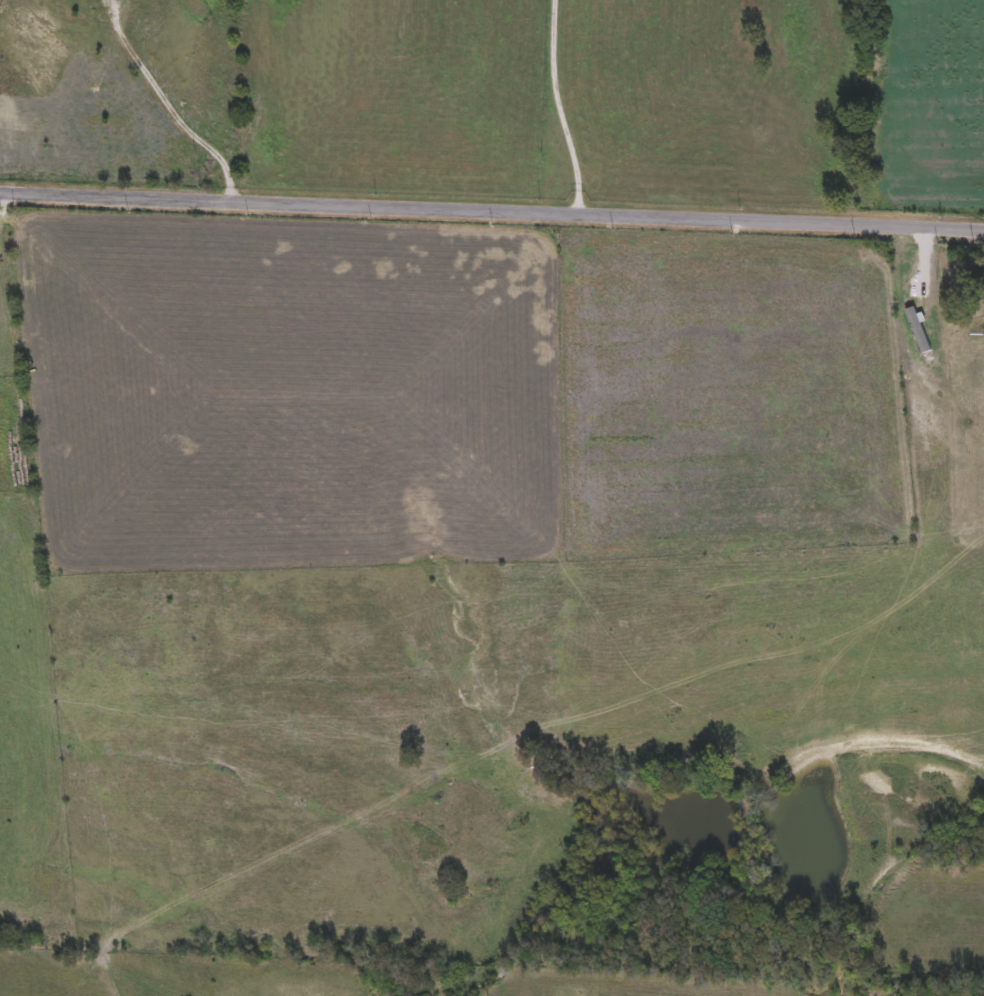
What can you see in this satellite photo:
road: (167, 105)
road: (557, 107)
road: (491, 209)

